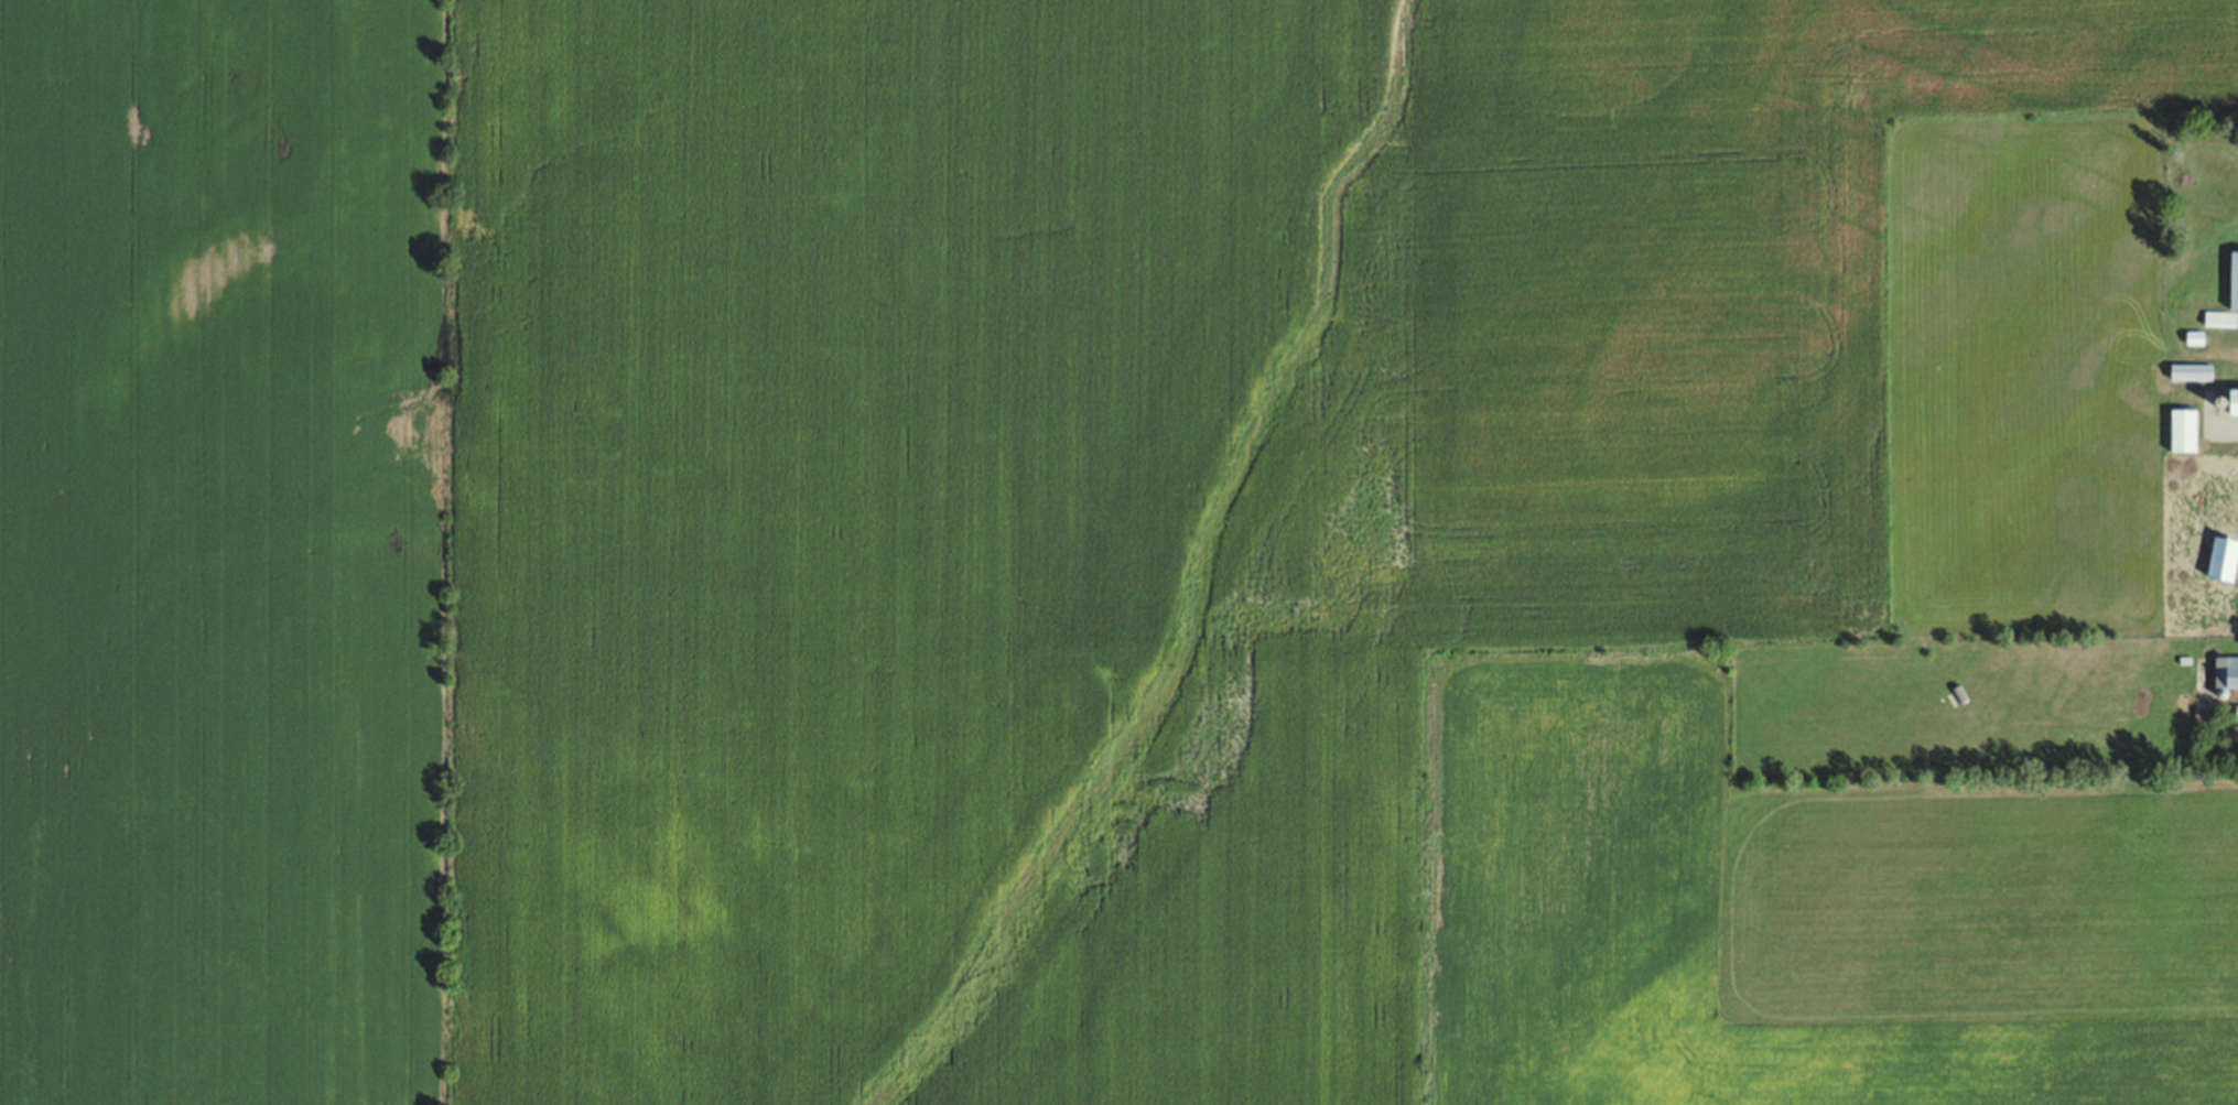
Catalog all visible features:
building: (2232, 279)
building: (2220, 318)
building: (2193, 371)
building: (2186, 430)
building: (2225, 556)
building: (2225, 670)

